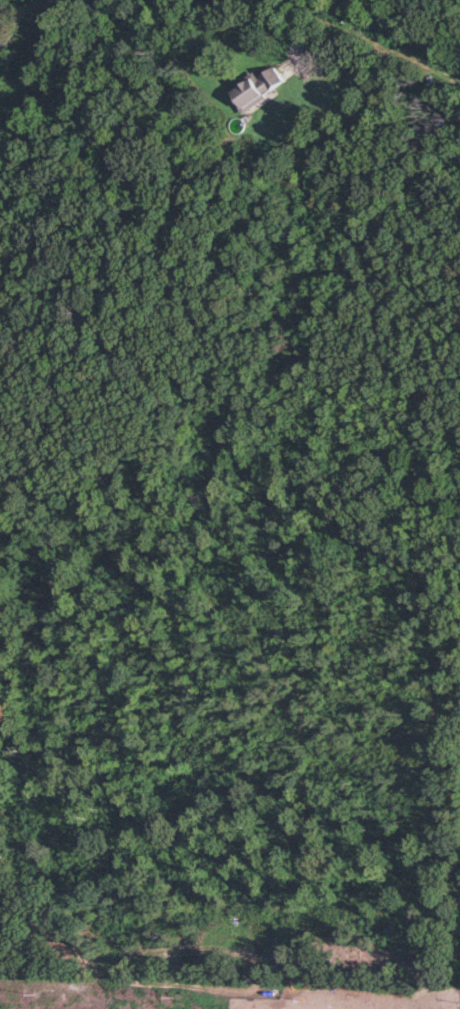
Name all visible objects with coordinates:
road: (303, 28)
road: (381, 43)
building: (258, 90)

